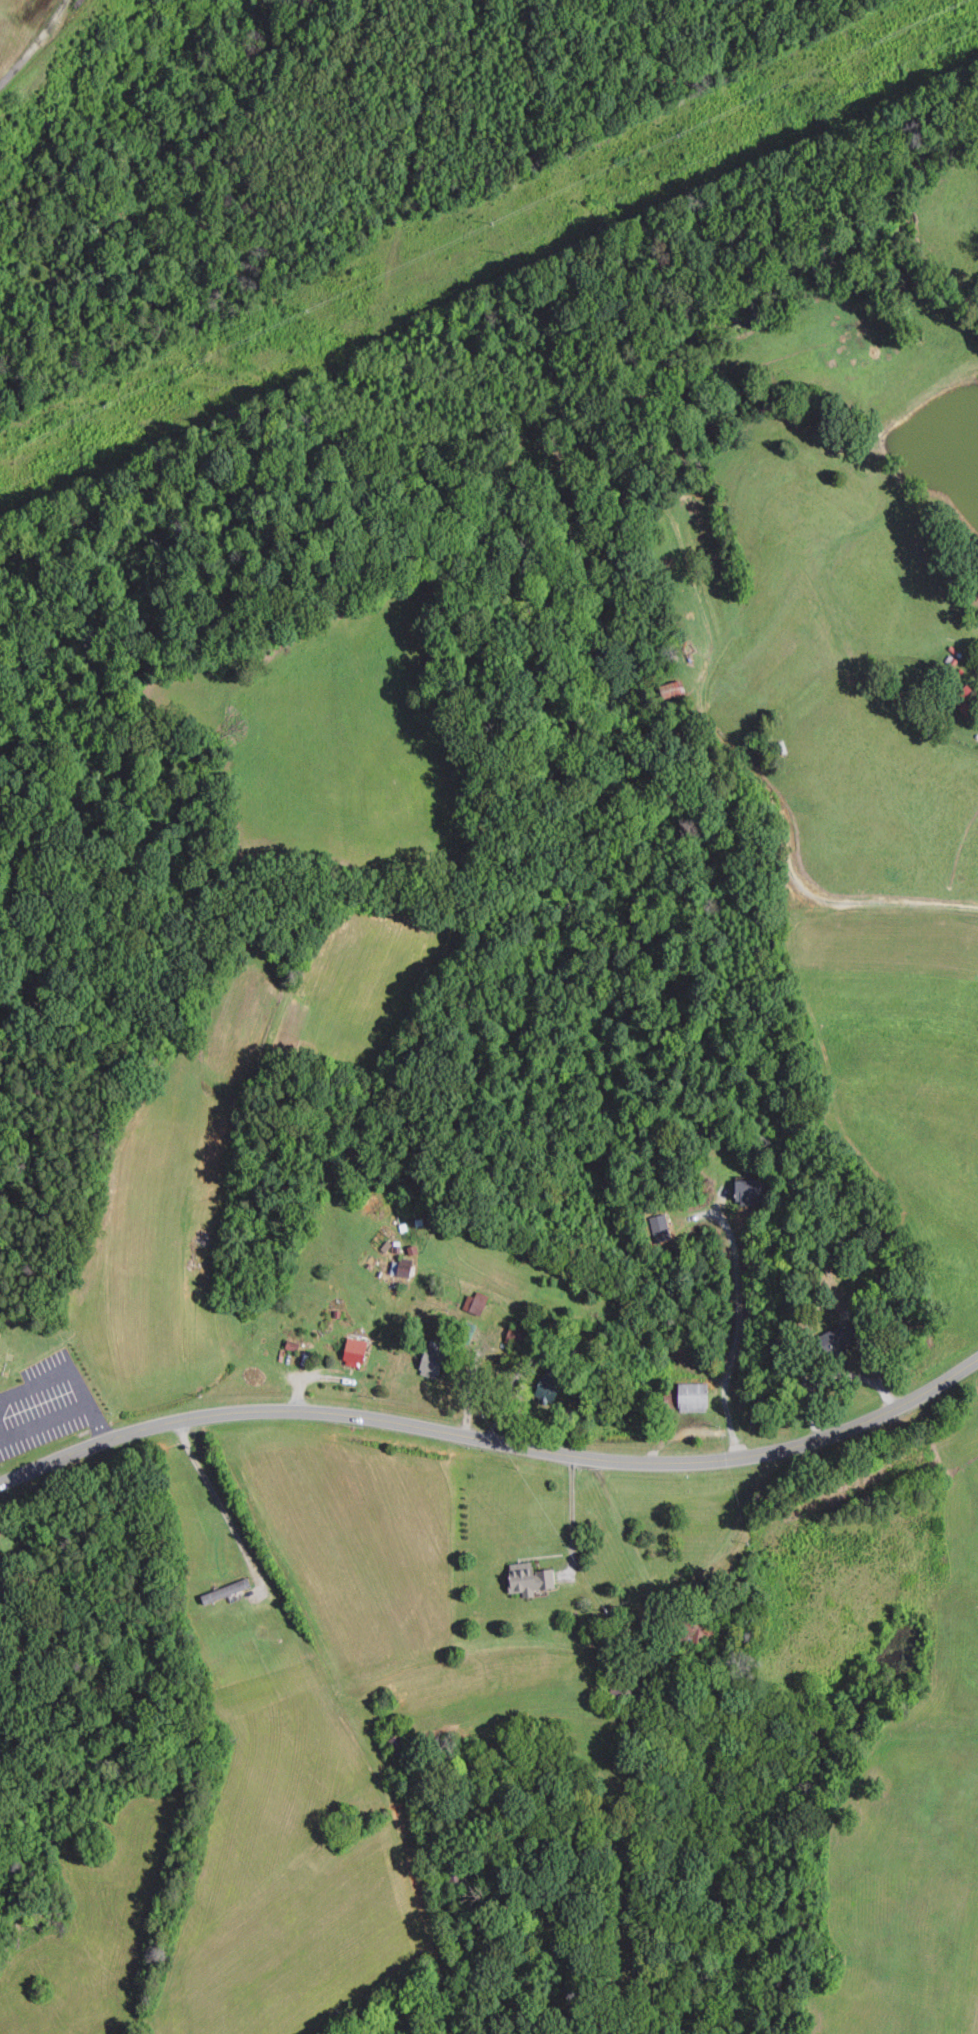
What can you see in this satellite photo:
road: (36, 46)
building: (749, 1191)
building: (402, 1267)
building: (476, 1303)
road: (738, 1322)
building: (839, 1338)
building: (355, 1352)
building: (434, 1358)
building: (548, 1388)
building: (693, 1397)
road: (493, 1440)
road: (572, 1516)
building: (530, 1579)

